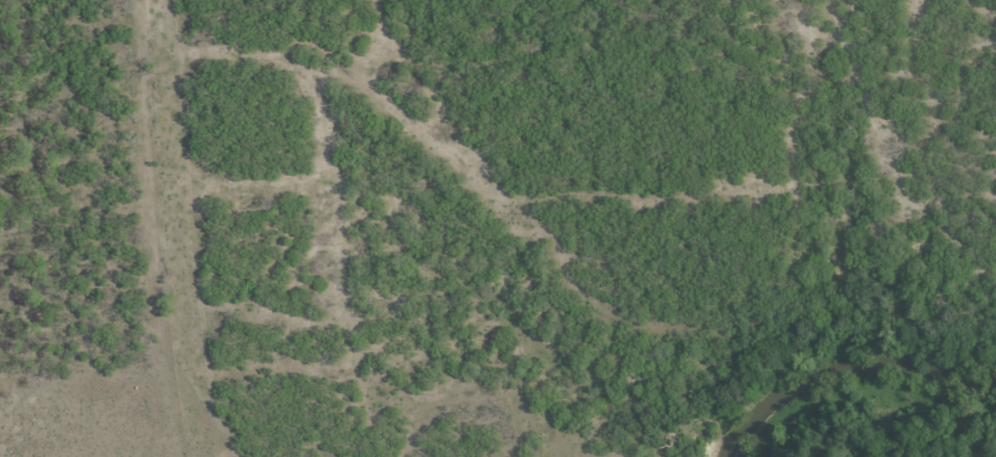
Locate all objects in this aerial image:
river: (840, 401)

